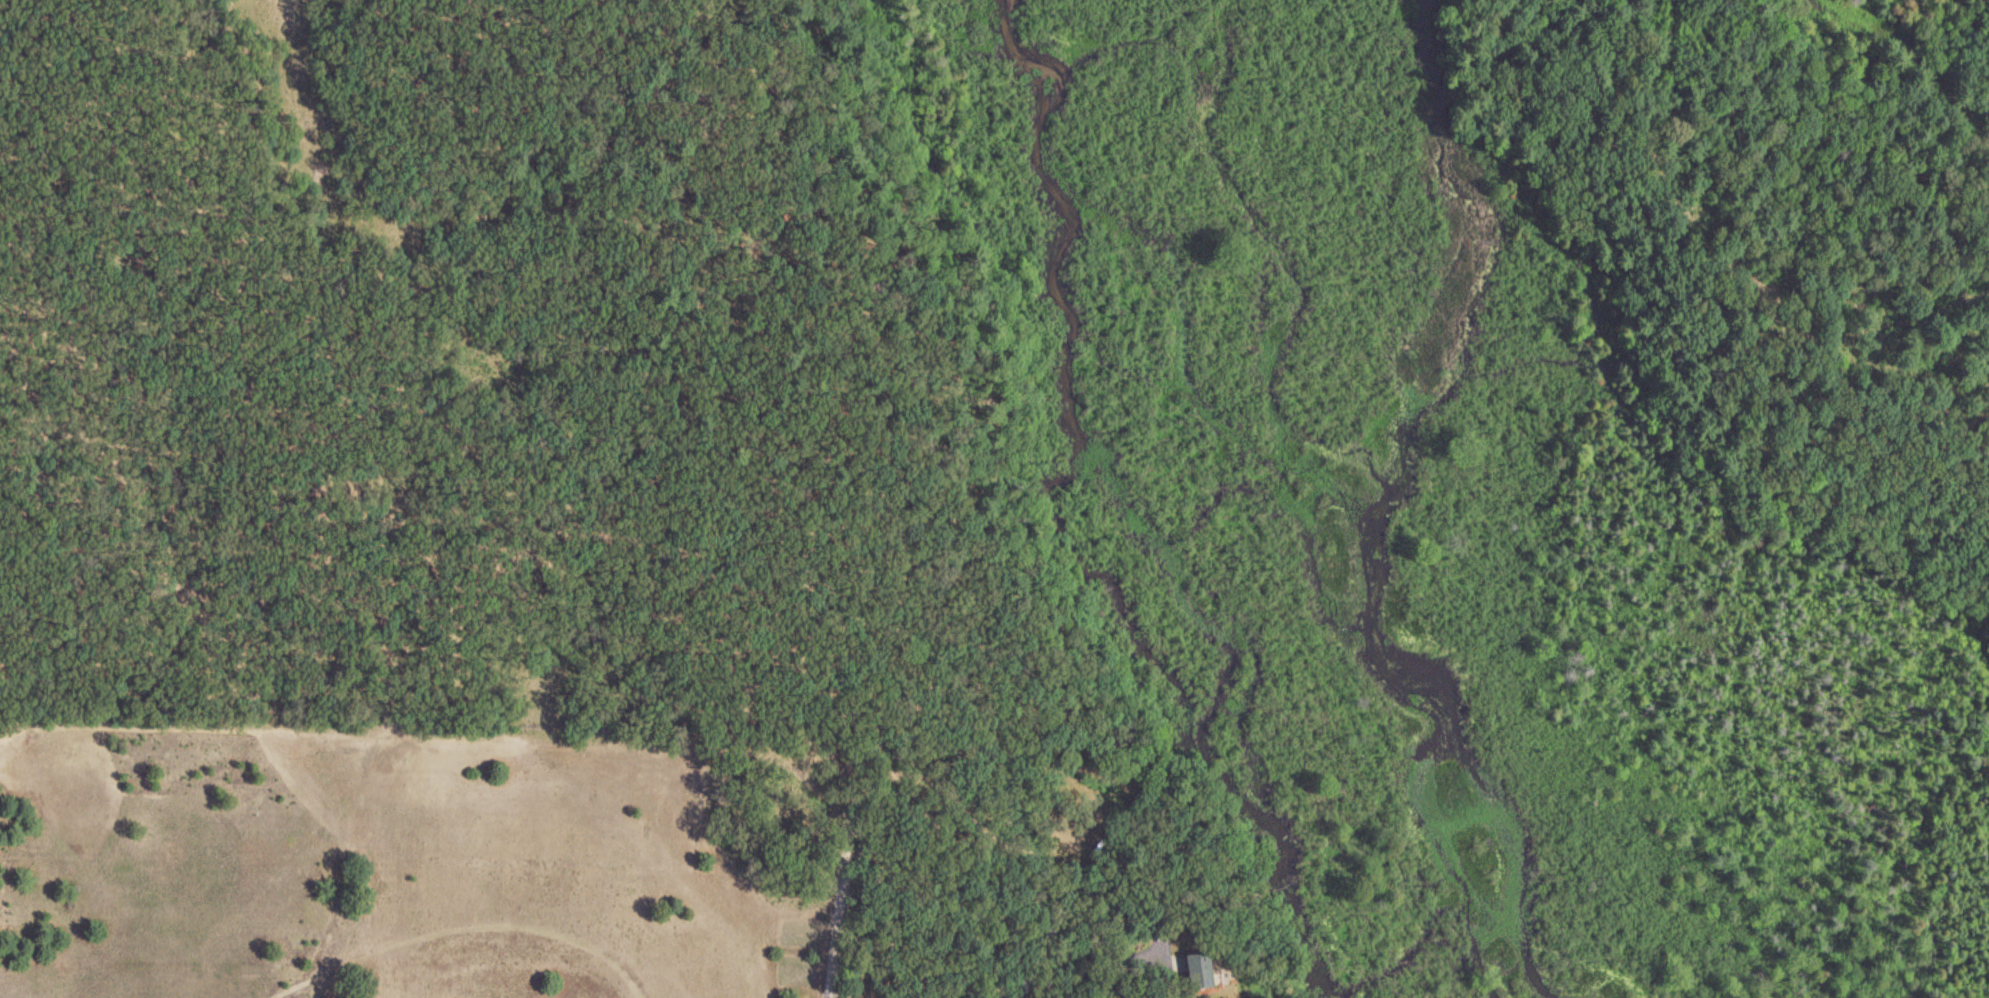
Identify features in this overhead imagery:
road: (842, 906)
road: (1092, 967)
building: (1193, 970)

